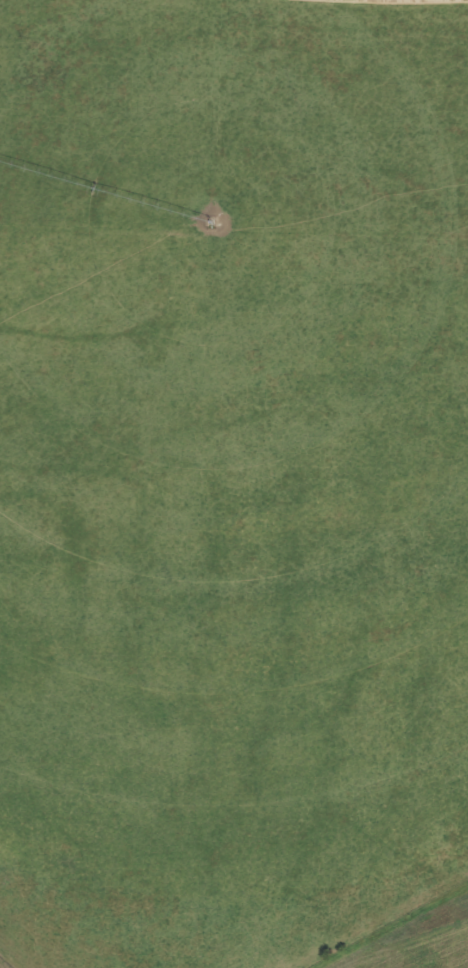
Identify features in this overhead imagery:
road: (427, 1)

